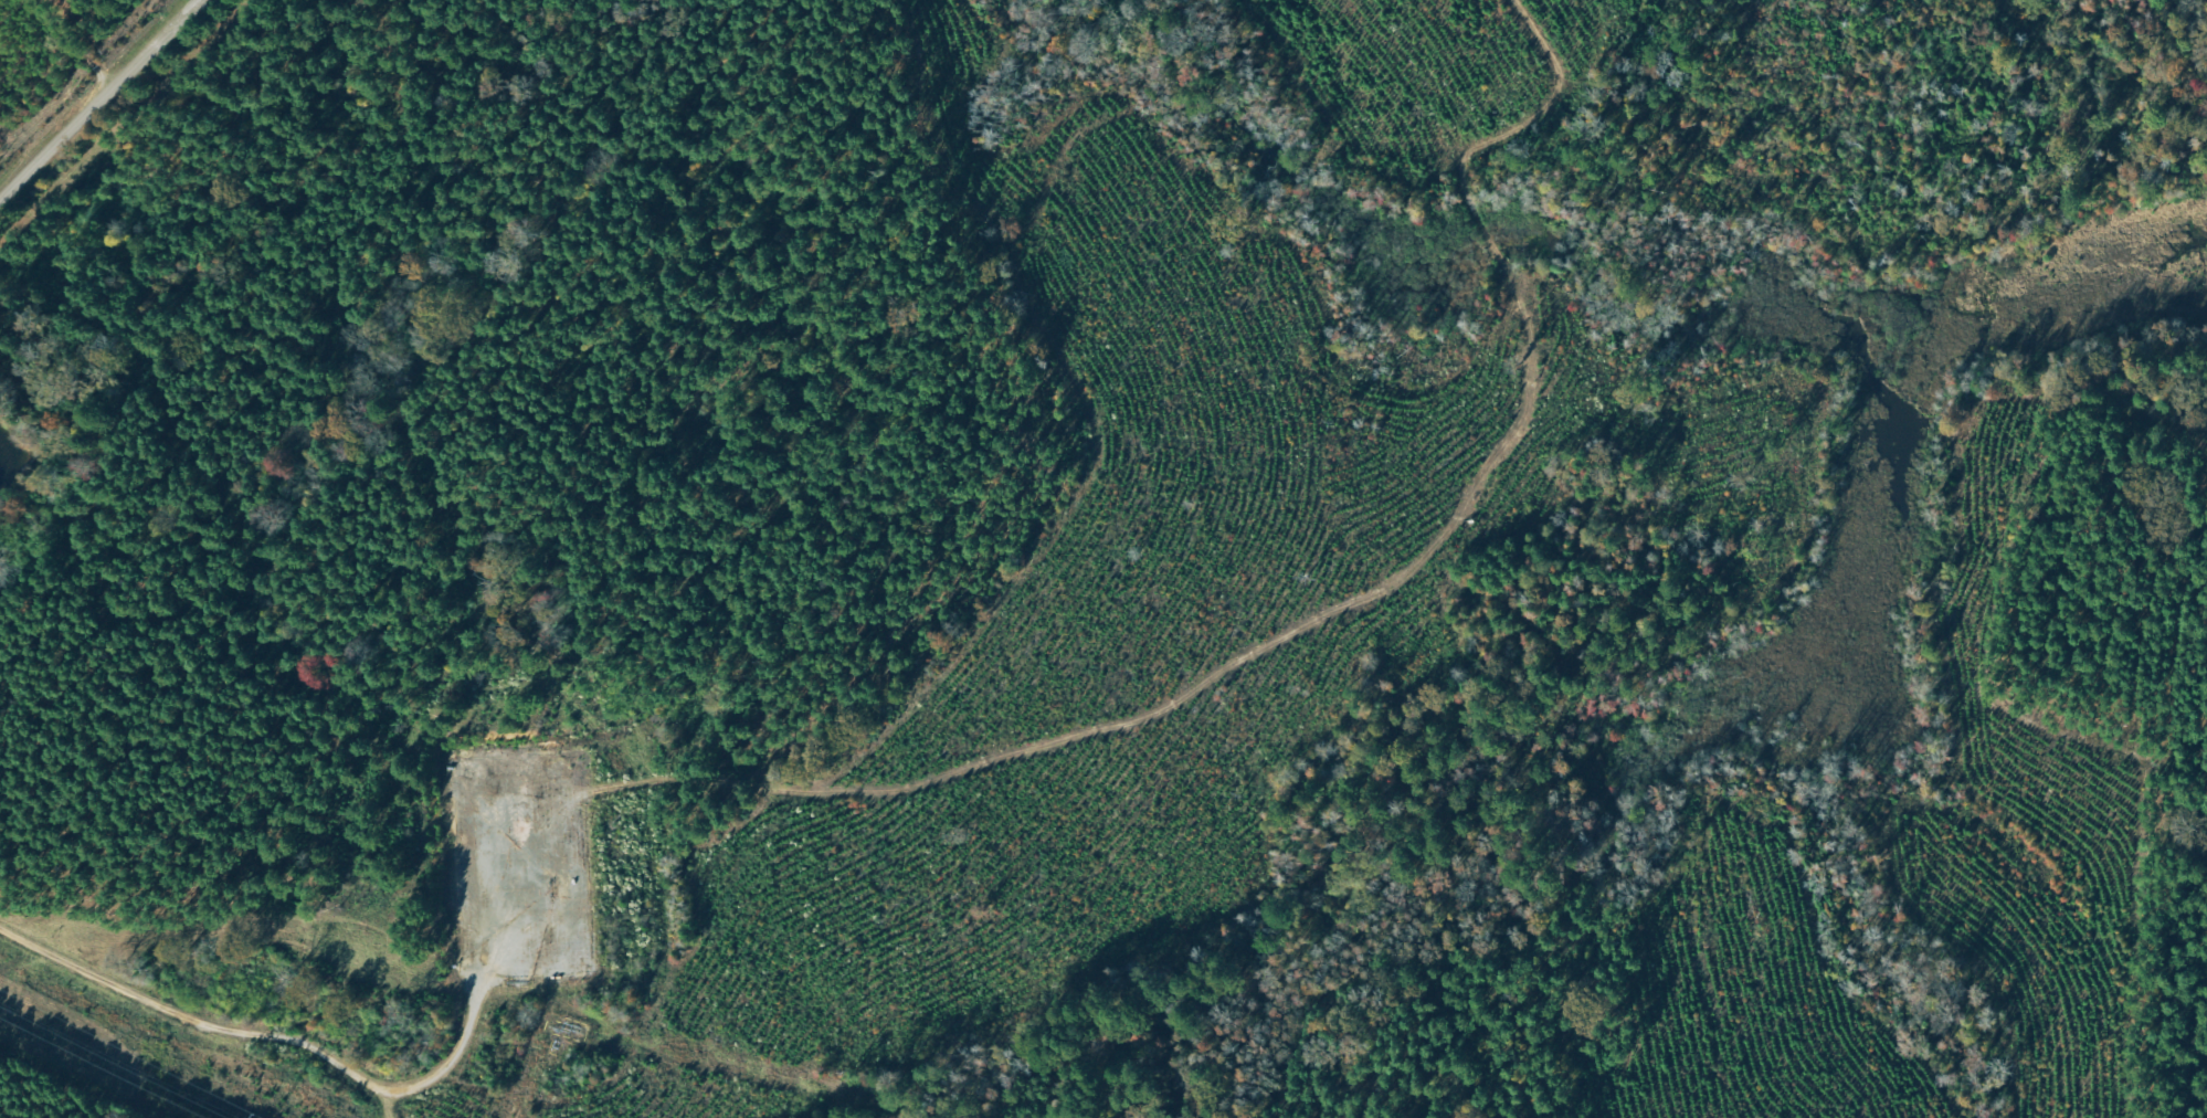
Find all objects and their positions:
road: (72, 42)
road: (99, 95)
road: (324, 182)

